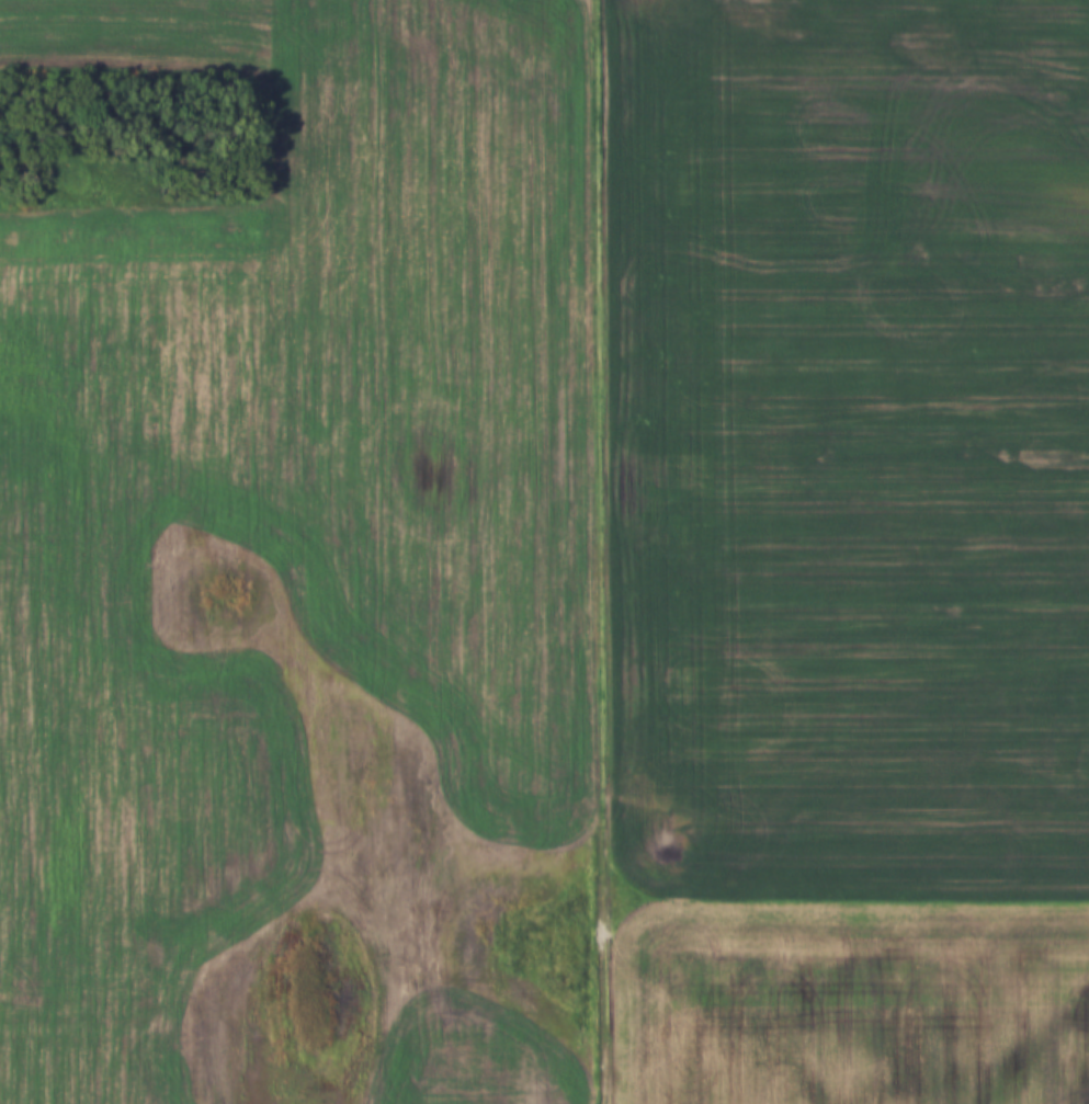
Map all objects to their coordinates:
road: (598, 551)

